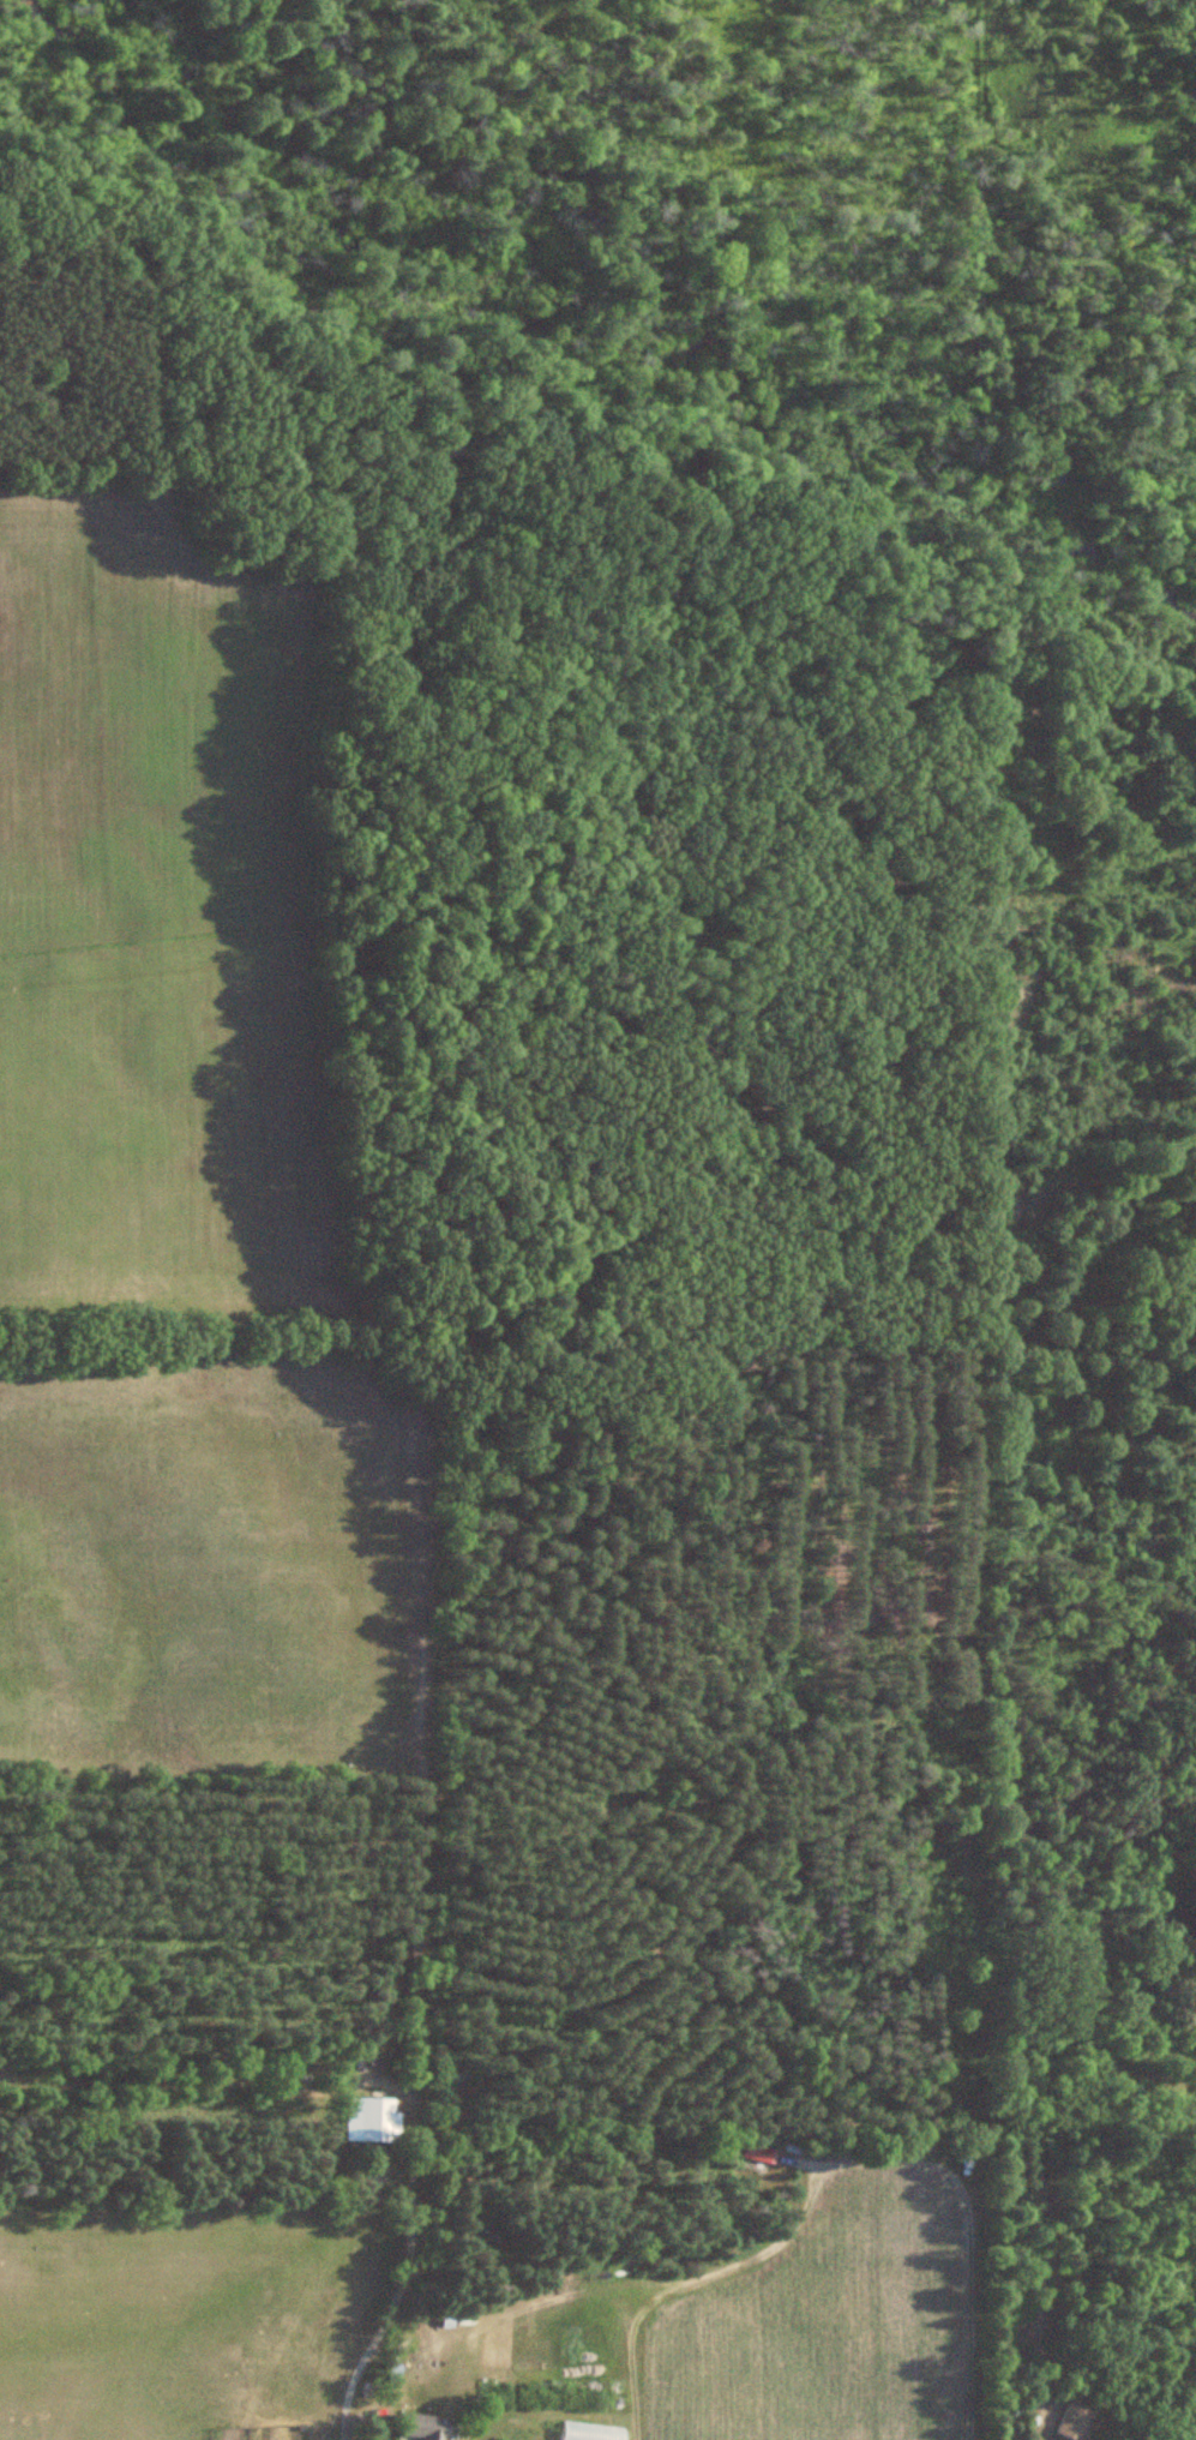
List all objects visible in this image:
building: (373, 2120)
road: (697, 2283)
road: (399, 2295)
building: (416, 2426)

